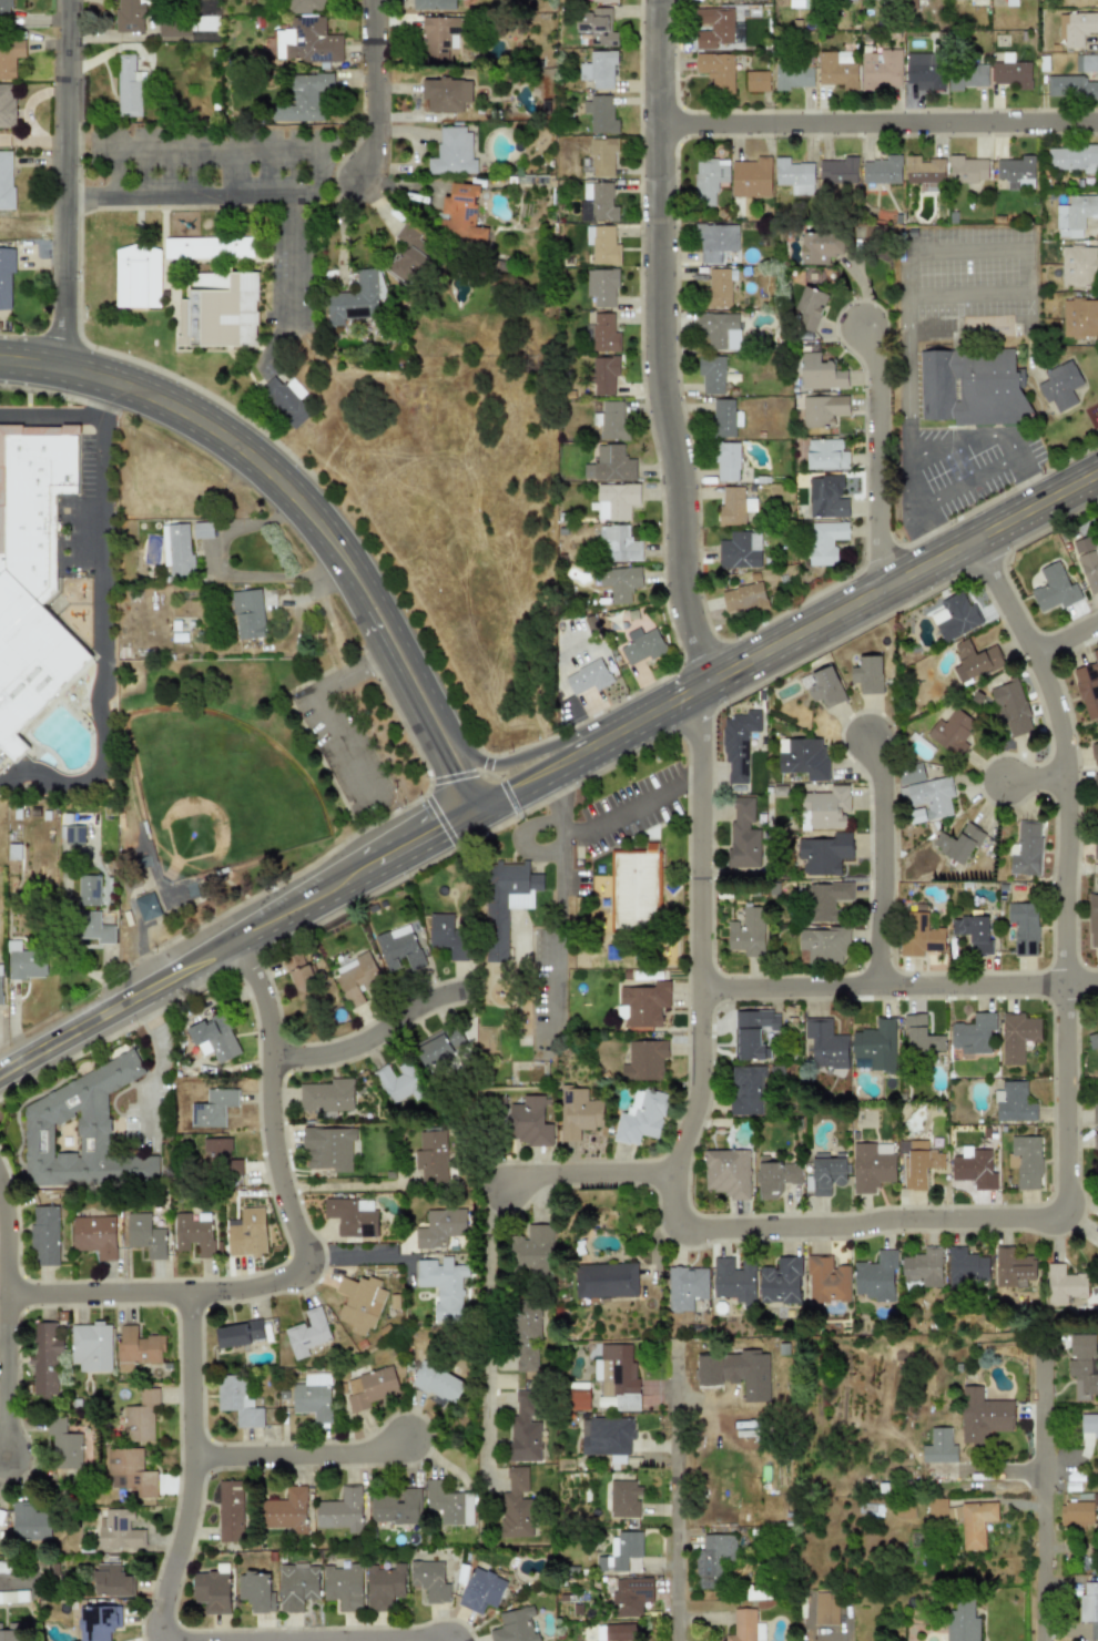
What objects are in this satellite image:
building: (604, 0)
building: (1010, 2)
building: (434, 4)
building: (911, 4)
building: (304, 6)
building: (6, 10)
building: (130, 16)
building: (183, 26)
building: (596, 26)
building: (714, 27)
building: (1076, 27)
building: (437, 37)
building: (307, 41)
building: (1086, 62)
building: (8, 63)
building: (837, 69)
building: (880, 69)
building: (599, 70)
building: (716, 71)
building: (924, 71)
building: (1011, 72)
building: (966, 75)
building: (792, 77)
building: (756, 81)
building: (128, 86)
building: (1070, 86)
road: (378, 93)
building: (447, 94)
building: (306, 100)
building: (7, 105)
building: (600, 114)
road: (882, 133)
road: (210, 149)
building: (454, 152)
building: (600, 157)
building: (1071, 157)
building: (837, 170)
building: (882, 170)
building: (967, 170)
building: (1015, 170)
building: (924, 171)
road: (116, 173)
building: (794, 175)
road: (70, 176)
road: (319, 177)
building: (751, 177)
building: (6, 179)
building: (708, 180)
road: (195, 197)
building: (598, 202)
building: (461, 215)
building: (1075, 215)
building: (716, 241)
building: (601, 244)
building: (821, 246)
building: (209, 247)
road: (1021, 248)
building: (410, 253)
road: (295, 259)
building: (1078, 265)
building: (138, 277)
building: (6, 278)
building: (601, 286)
building: (718, 288)
building: (357, 299)
building: (811, 307)
building: (225, 308)
building: (1079, 317)
building: (716, 328)
building: (602, 333)
road: (664, 345)
road: (57, 366)
building: (821, 373)
building: (711, 374)
building: (603, 375)
building: (927, 385)
building: (1059, 385)
building: (979, 387)
building: (287, 398)
building: (823, 410)
road: (53, 415)
building: (724, 418)
building: (610, 419)
road: (906, 430)
road: (992, 435)
road: (878, 452)
building: (826, 455)
building: (726, 461)
building: (611, 463)
road: (289, 475)
road: (965, 482)
building: (827, 497)
building: (617, 500)
building: (733, 507)
road: (297, 519)
building: (202, 530)
building: (825, 542)
building: (617, 543)
building: (176, 549)
building: (740, 550)
building: (1087, 562)
road: (225, 571)
building: (31, 572)
building: (620, 582)
building: (1053, 588)
building: (743, 599)
building: (247, 614)
building: (954, 616)
road: (102, 635)
road: (1067, 636)
road: (785, 639)
building: (641, 645)
building: (974, 661)
building: (868, 674)
building: (587, 677)
building: (823, 686)
building: (1088, 686)
building: (1010, 707)
road: (315, 712)
building: (953, 731)
building: (738, 745)
road: (539, 748)
building: (1095, 752)
building: (803, 757)
building: (911, 774)
road: (470, 777)
road: (1037, 782)
building: (1096, 782)
park: (216, 792)
road: (553, 793)
park: (220, 795)
building: (926, 798)
building: (826, 806)
road: (630, 808)
road: (558, 833)
building: (73, 834)
building: (743, 835)
road: (520, 836)
building: (958, 843)
building: (1096, 848)
building: (1025, 849)
building: (824, 854)
road: (880, 858)
building: (634, 887)
building: (88, 889)
building: (825, 900)
building: (506, 901)
building: (145, 906)
building: (1092, 919)
building: (1024, 927)
building: (94, 928)
building: (746, 931)
road: (700, 932)
building: (973, 932)
building: (919, 935)
road: (237, 939)
building: (821, 945)
building: (398, 948)
road: (557, 951)
building: (28, 965)
building: (356, 975)
building: (301, 978)
building: (0, 985)
road: (899, 986)
building: (643, 1005)
building: (751, 1032)
building: (973, 1033)
road: (374, 1034)
building: (921, 1036)
building: (1017, 1036)
building: (215, 1037)
building: (1092, 1041)
building: (876, 1044)
building: (825, 1046)
building: (439, 1047)
road: (160, 1054)
building: (644, 1060)
building: (861, 1066)
building: (399, 1082)
road: (1067, 1088)
building: (746, 1090)
building: (327, 1095)
building: (1014, 1102)
building: (1096, 1104)
building: (213, 1108)
building: (578, 1112)
building: (640, 1117)
building: (528, 1122)
building: (80, 1131)
building: (1095, 1141)
building: (328, 1148)
building: (218, 1155)
building: (433, 1155)
building: (1026, 1161)
building: (919, 1163)
building: (871, 1165)
building: (973, 1168)
building: (726, 1172)
road: (589, 1173)
building: (825, 1174)
building: (775, 1179)
building: (352, 1216)
building: (246, 1232)
building: (44, 1234)
building: (94, 1235)
building: (145, 1235)
building: (192, 1235)
road: (6, 1247)
road: (302, 1250)
building: (533, 1251)
building: (1097, 1251)
building: (923, 1267)
building: (966, 1267)
building: (1013, 1267)
building: (874, 1276)
building: (733, 1280)
building: (606, 1281)
building: (826, 1281)
building: (780, 1282)
building: (1063, 1284)
building: (443, 1286)
building: (685, 1286)
building: (357, 1302)
road: (487, 1332)
building: (307, 1333)
building: (240, 1335)
building: (522, 1341)
building: (91, 1346)
building: (136, 1348)
building: (43, 1358)
building: (1084, 1365)
building: (736, 1373)
road: (6, 1374)
building: (618, 1376)
building: (437, 1382)
building: (369, 1387)
building: (237, 1400)
building: (312, 1400)
building: (984, 1417)
building: (525, 1425)
building: (1089, 1433)
building: (608, 1436)
building: (63, 1444)
building: (941, 1447)
road: (298, 1451)
road: (192, 1467)
building: (128, 1472)
road: (1046, 1497)
building: (623, 1499)
road: (677, 1501)
building: (448, 1504)
building: (516, 1504)
building: (395, 1507)
building: (340, 1510)
building: (283, 1511)
building: (1077, 1513)
building: (965, 1519)
building: (29, 1523)
building: (116, 1529)
building: (623, 1549)
building: (713, 1558)
building: (3, 1567)
building: (429, 1580)
road: (16, 1581)
building: (111, 1581)
building: (297, 1586)
building: (343, 1586)
building: (384, 1586)
building: (481, 1590)
building: (212, 1591)
building: (255, 1592)
building: (630, 1596)
building: (12, 1597)
building: (825, 1608)
building: (1089, 1608)
building: (962, 1621)
building: (96, 1622)
building: (515, 1625)
building: (745, 1627)
building: (13, 1632)
building: (621, 1632)
road: (369, 1639)

